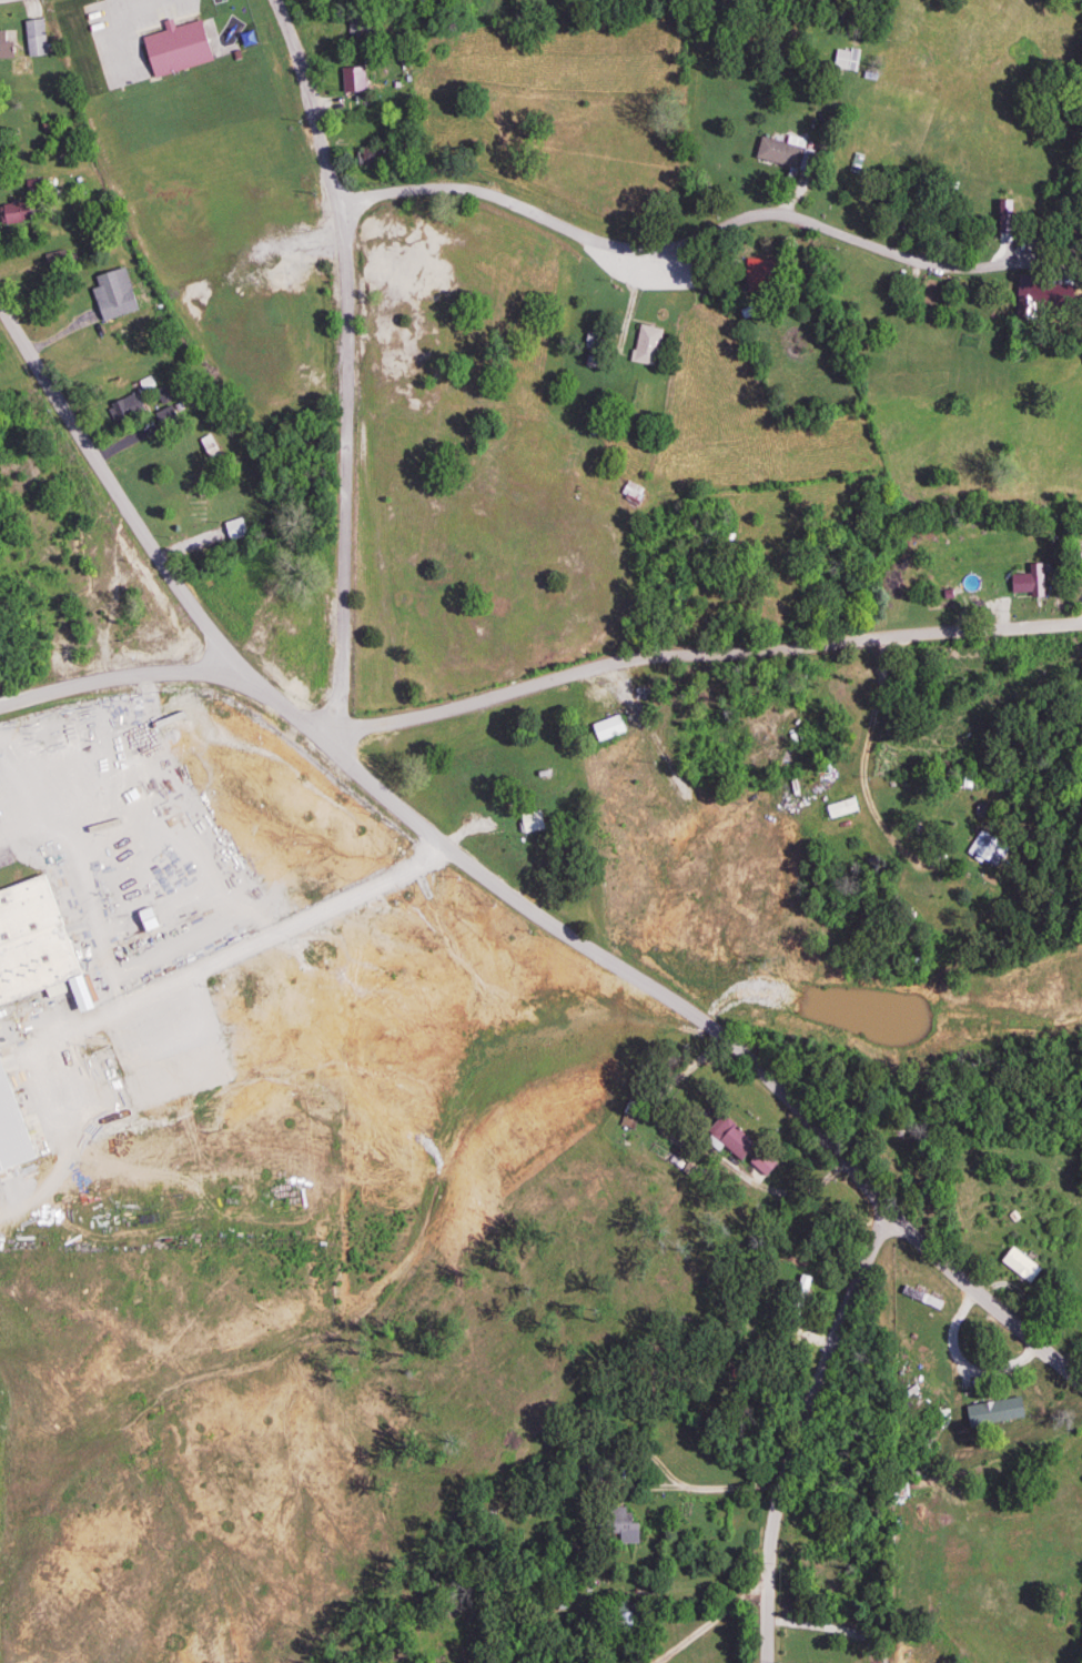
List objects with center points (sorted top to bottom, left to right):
building: (32, 38)
building: (3, 46)
building: (172, 50)
building: (843, 60)
building: (350, 80)
building: (779, 152)
building: (372, 158)
building: (11, 213)
road: (671, 245)
building: (112, 305)
building: (591, 342)
building: (643, 346)
road: (352, 367)
building: (123, 409)
road: (118, 487)
building: (629, 494)
building: (232, 531)
building: (1018, 582)
road: (696, 654)
road: (122, 678)
building: (690, 718)
building: (606, 728)
road: (866, 760)
building: (838, 808)
building: (528, 823)
building: (985, 850)
building: (43, 950)
road: (684, 1001)
road: (709, 1138)
building: (728, 1138)
building: (881, 1140)
building: (1017, 1267)
building: (990, 1412)
road: (797, 1424)
road: (651, 1458)
building: (620, 1526)
road: (717, 1616)

